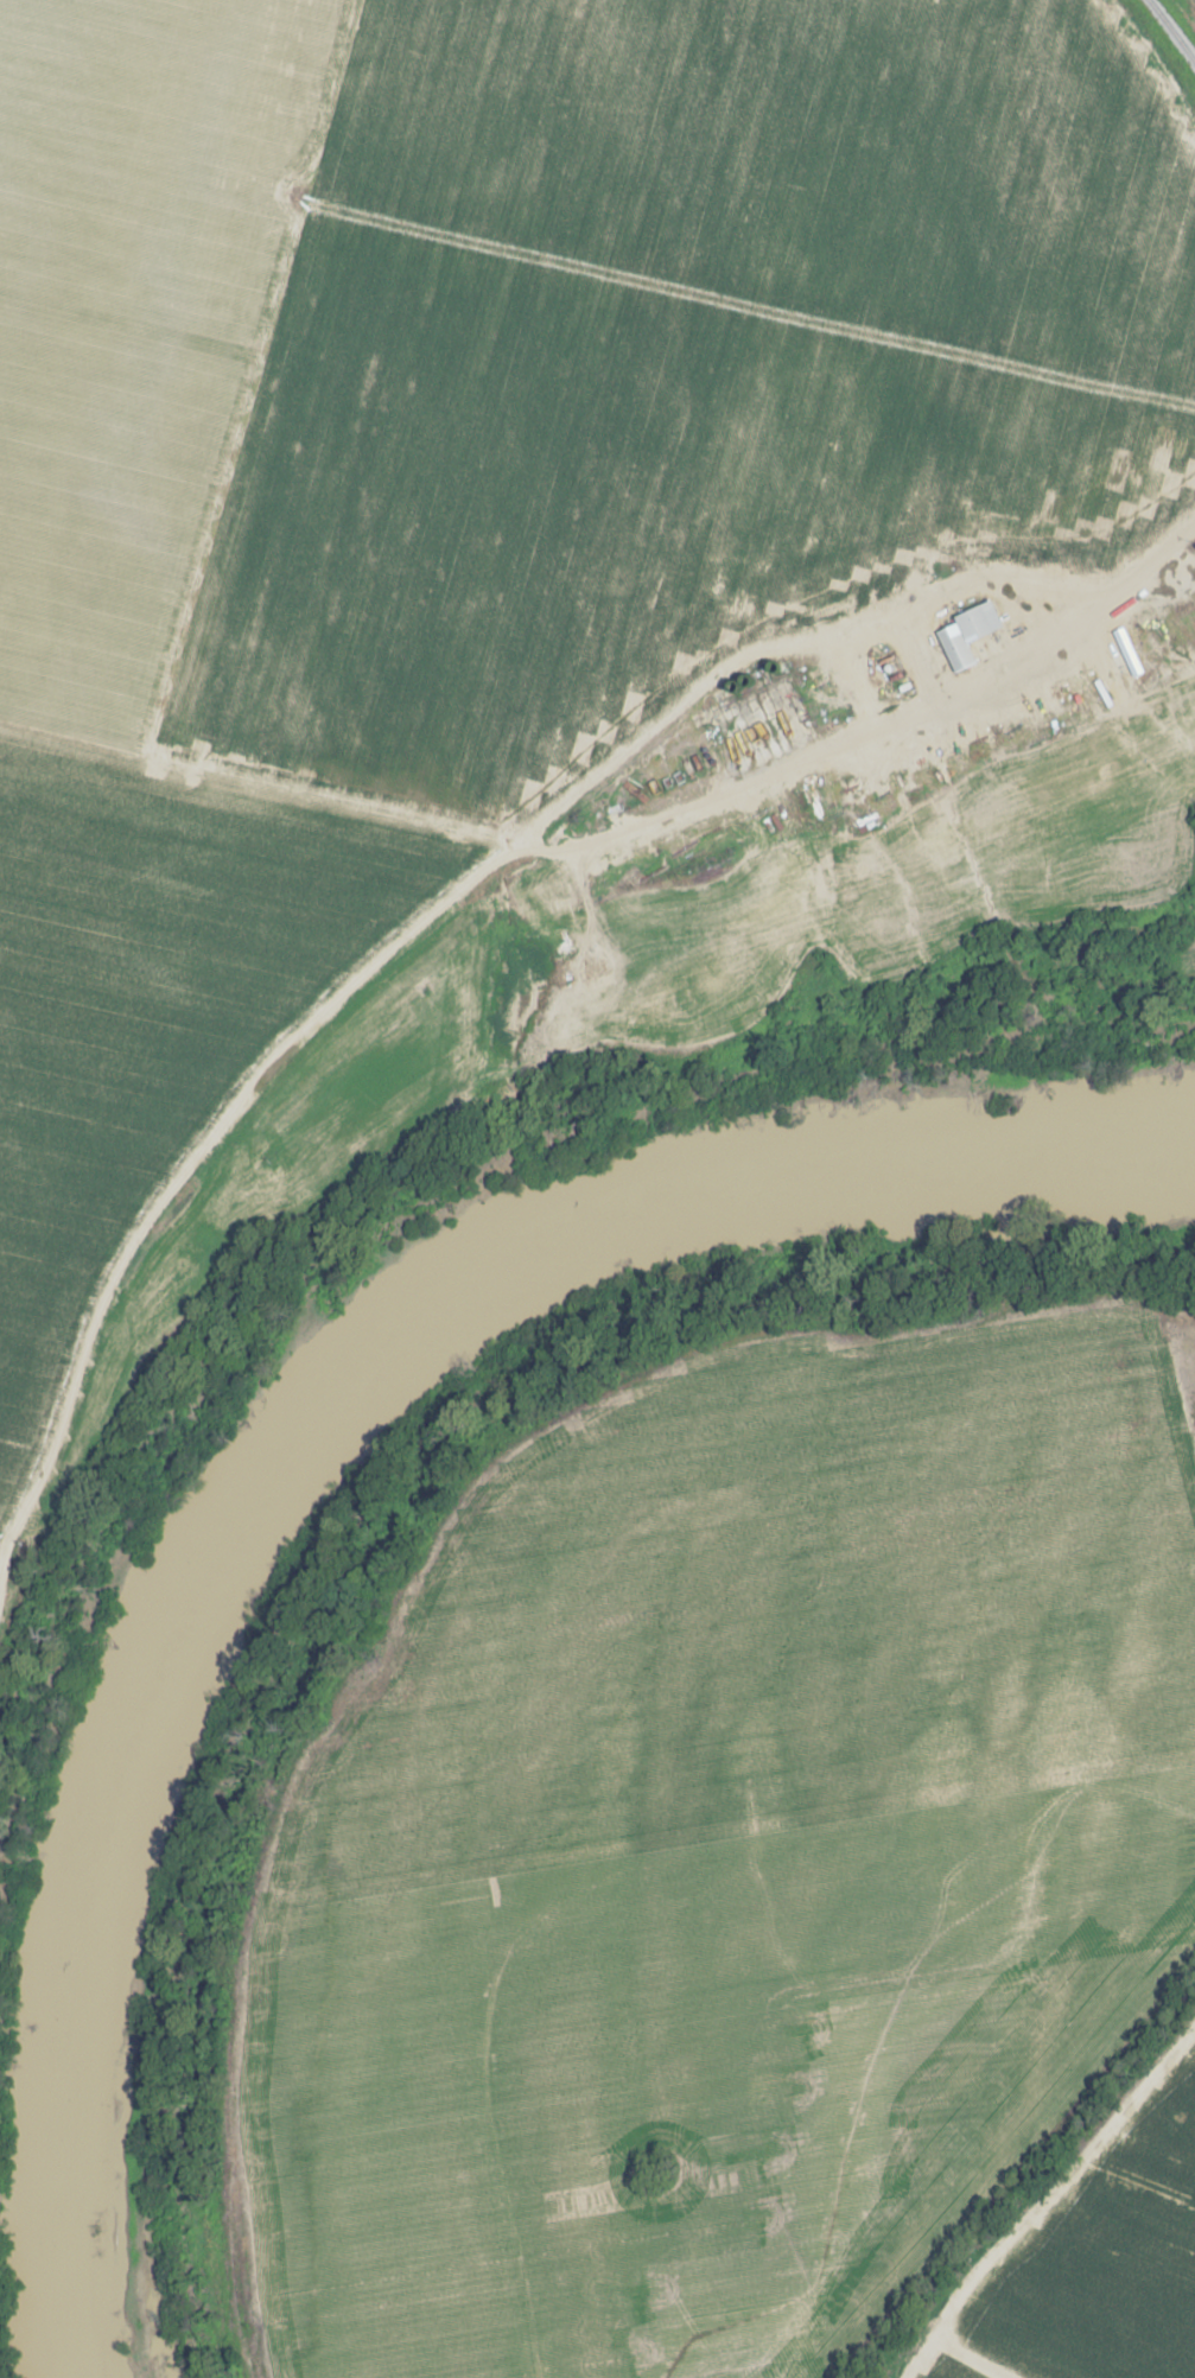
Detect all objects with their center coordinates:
railway: (1171, 32)
road: (1183, 532)
building: (968, 629)
building: (820, 701)
building: (675, 786)
building: (629, 808)
building: (699, 837)
road: (616, 839)
road: (589, 897)
road: (414, 929)
road: (227, 1266)
river: (294, 1445)

